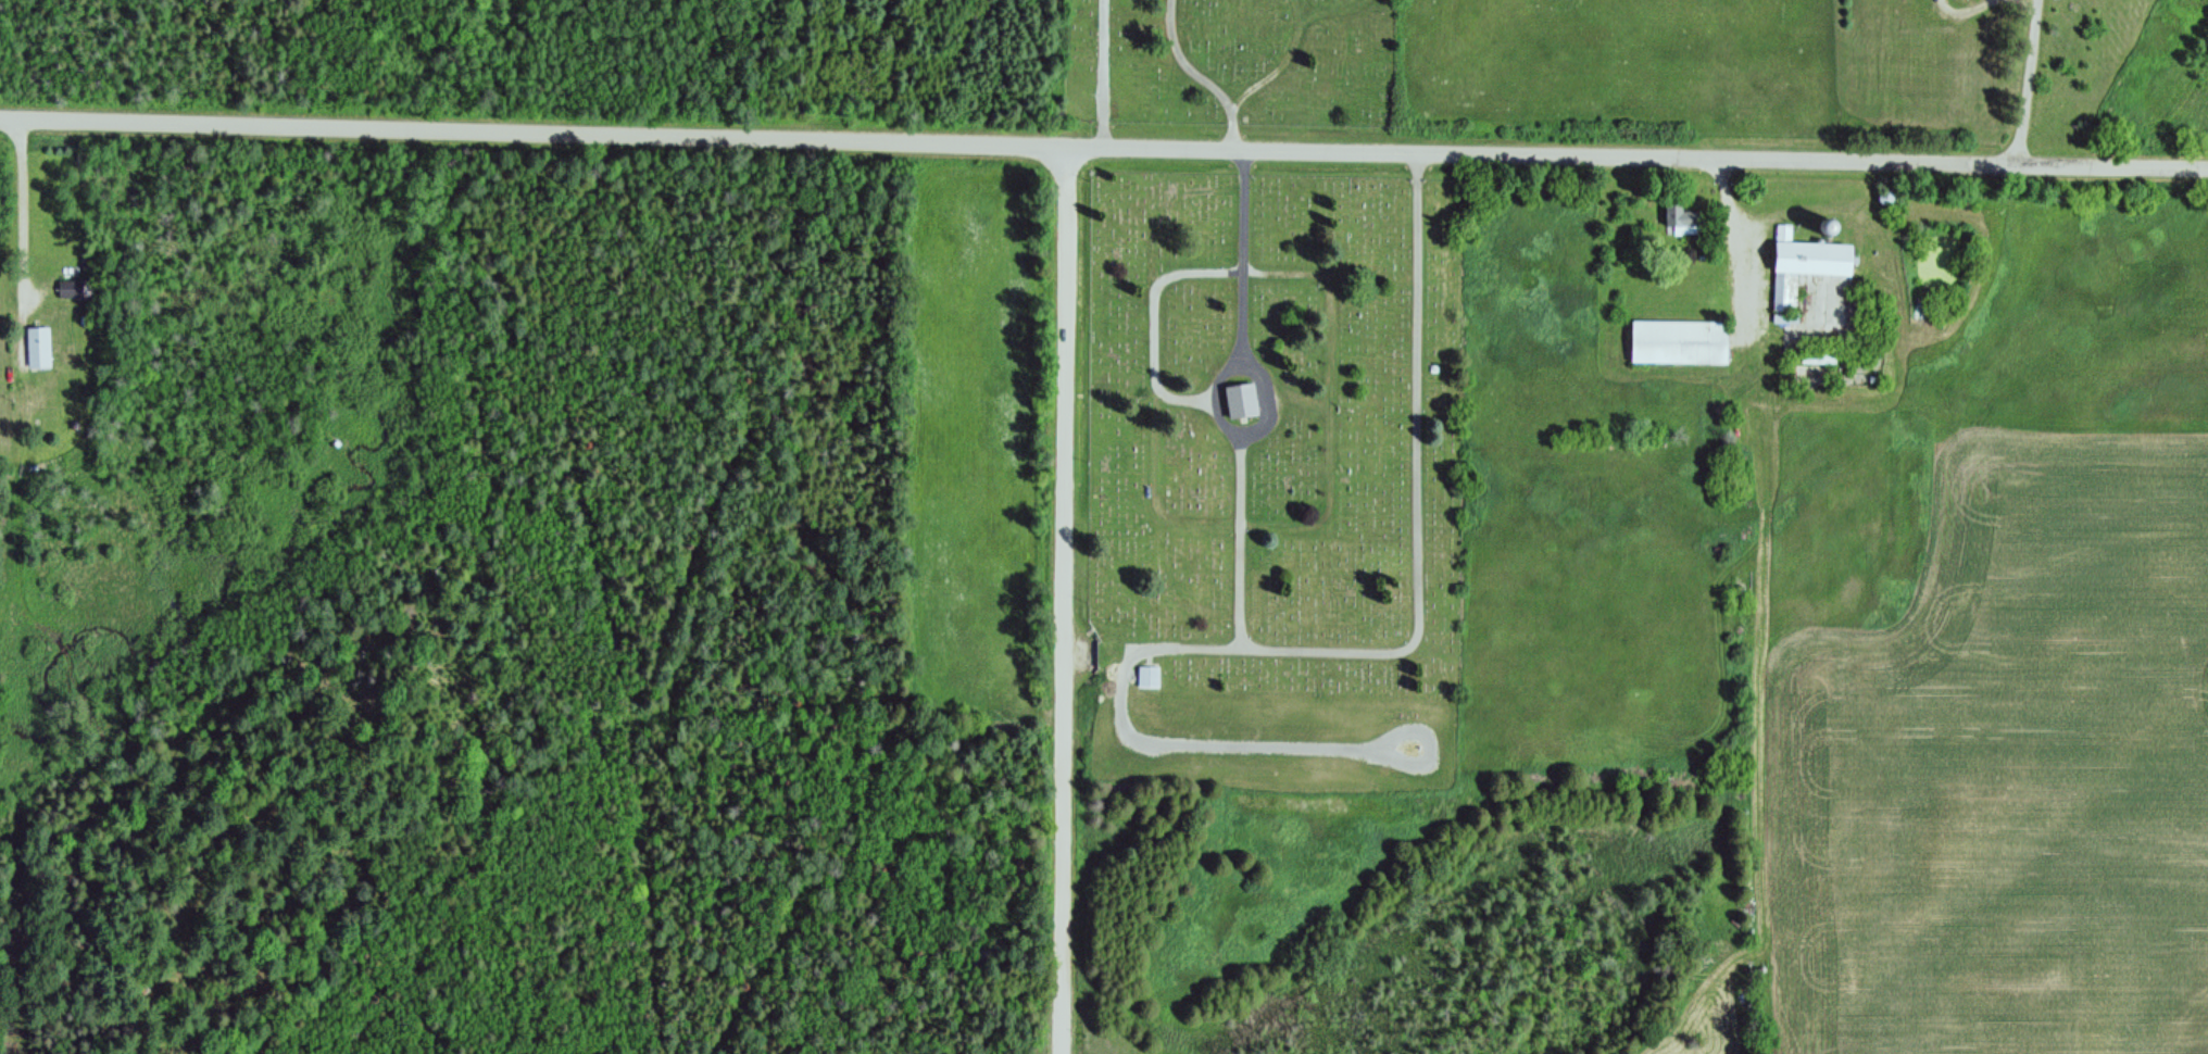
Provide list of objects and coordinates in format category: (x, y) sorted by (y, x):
road: (1333, 13)
road: (1283, 64)
road: (1104, 74)
road: (2029, 84)
road: (13, 120)
road: (1117, 148)
building: (1682, 222)
building: (1803, 267)
building: (71, 289)
road: (1157, 325)
road: (1242, 328)
building: (1678, 343)
building: (38, 349)
park: (1259, 354)
road: (1212, 398)
road: (1300, 399)
building: (1241, 402)
road: (1329, 502)
road: (1419, 528)
road: (1068, 602)
building: (1147, 678)

